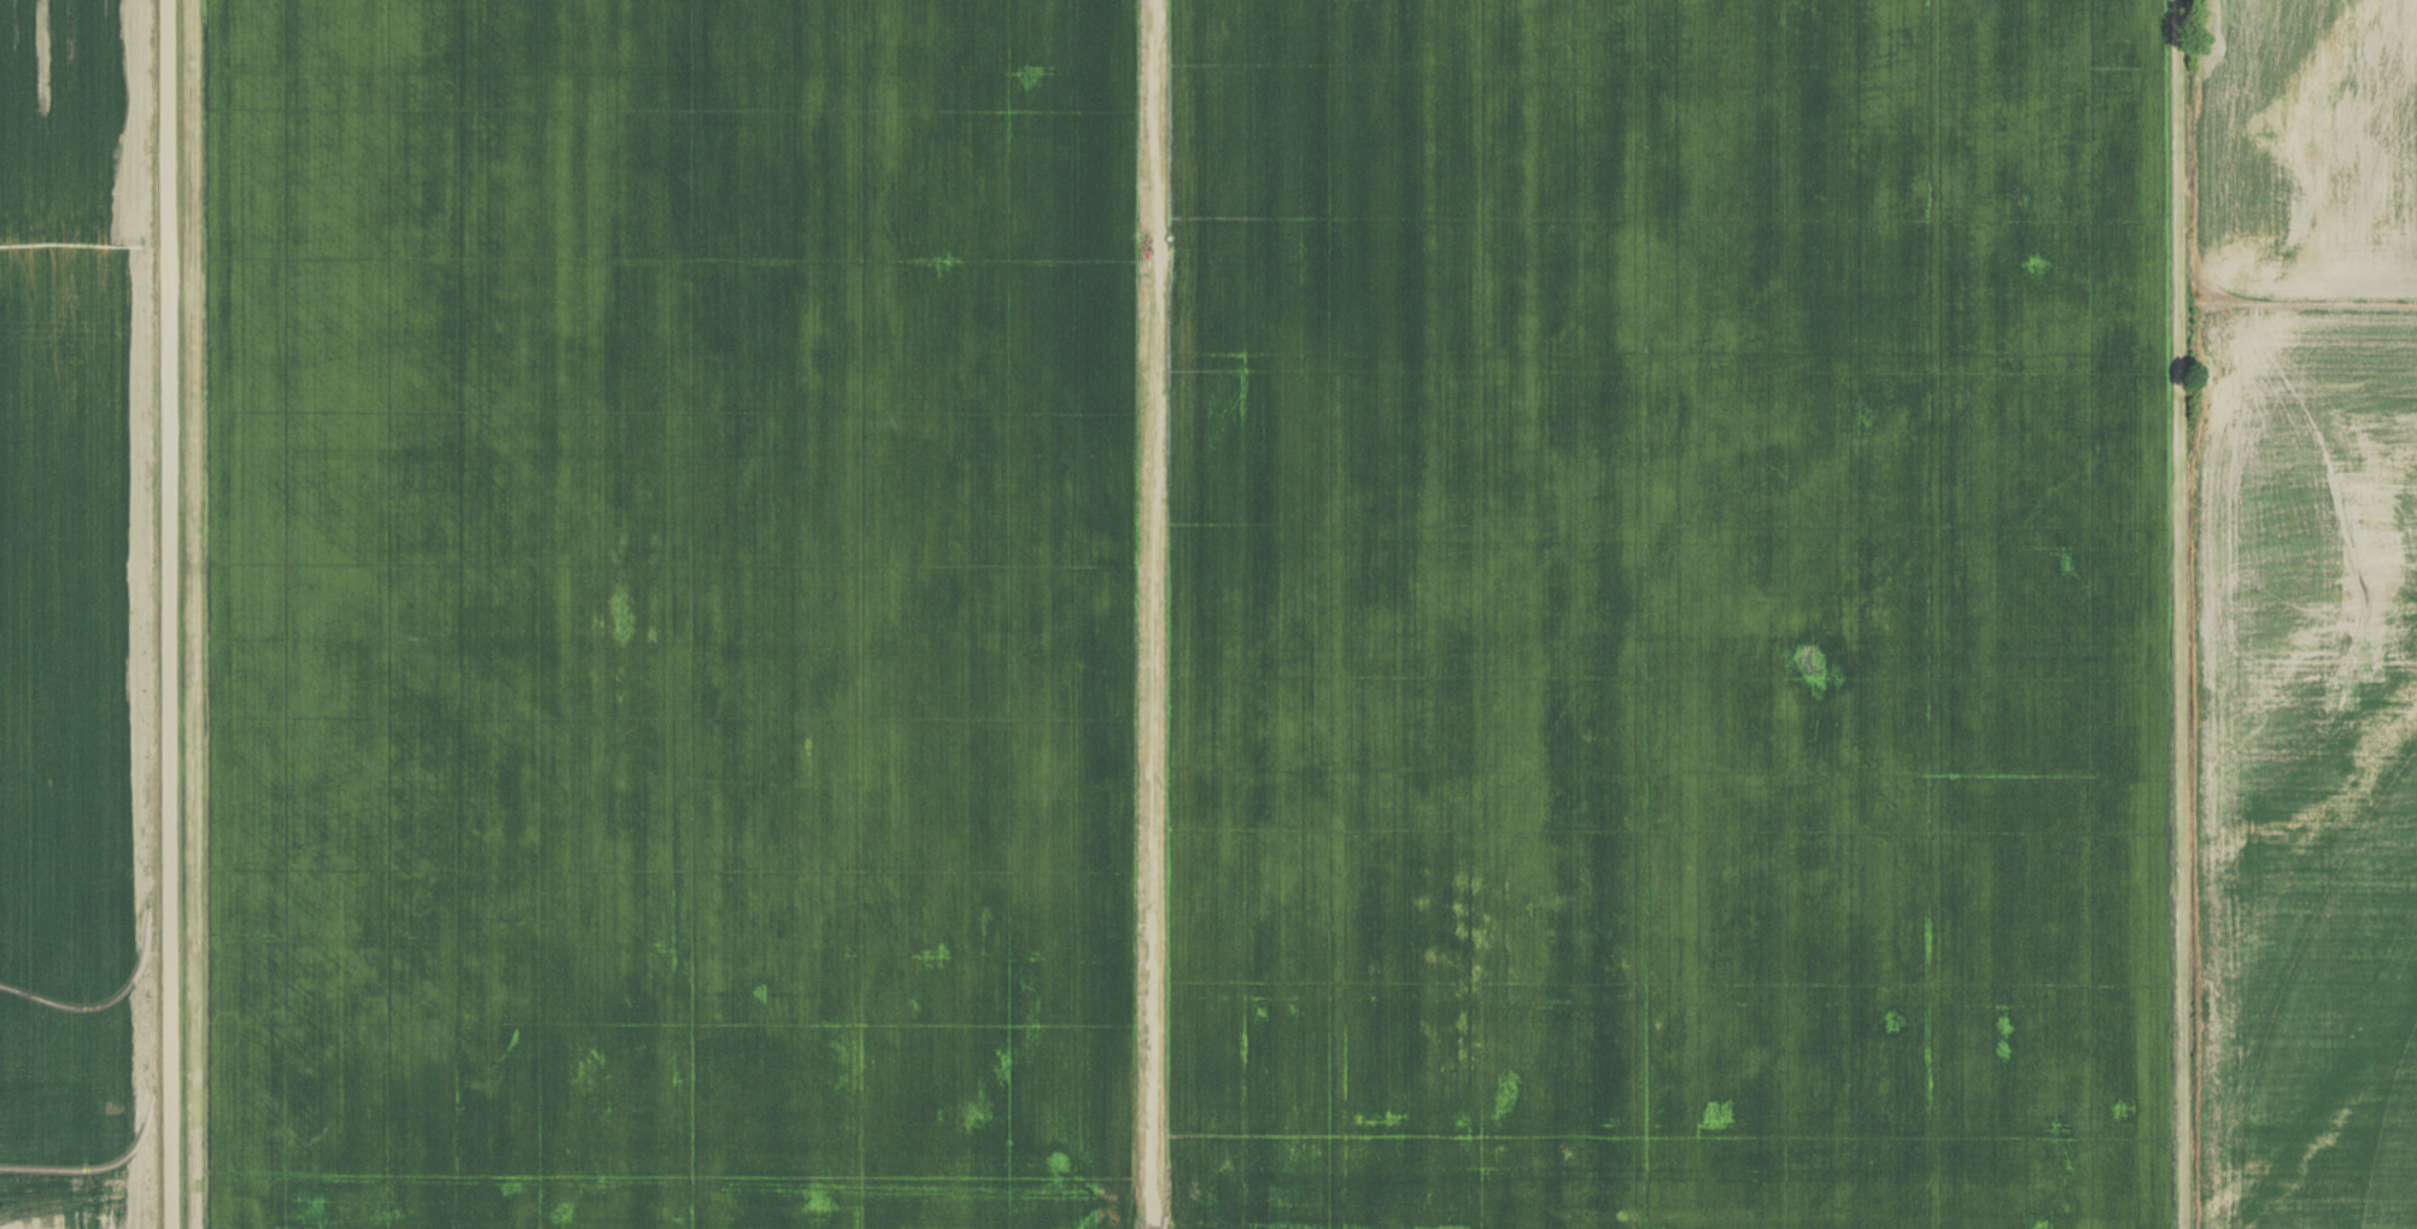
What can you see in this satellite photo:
road: (176, 614)
road: (1155, 614)

